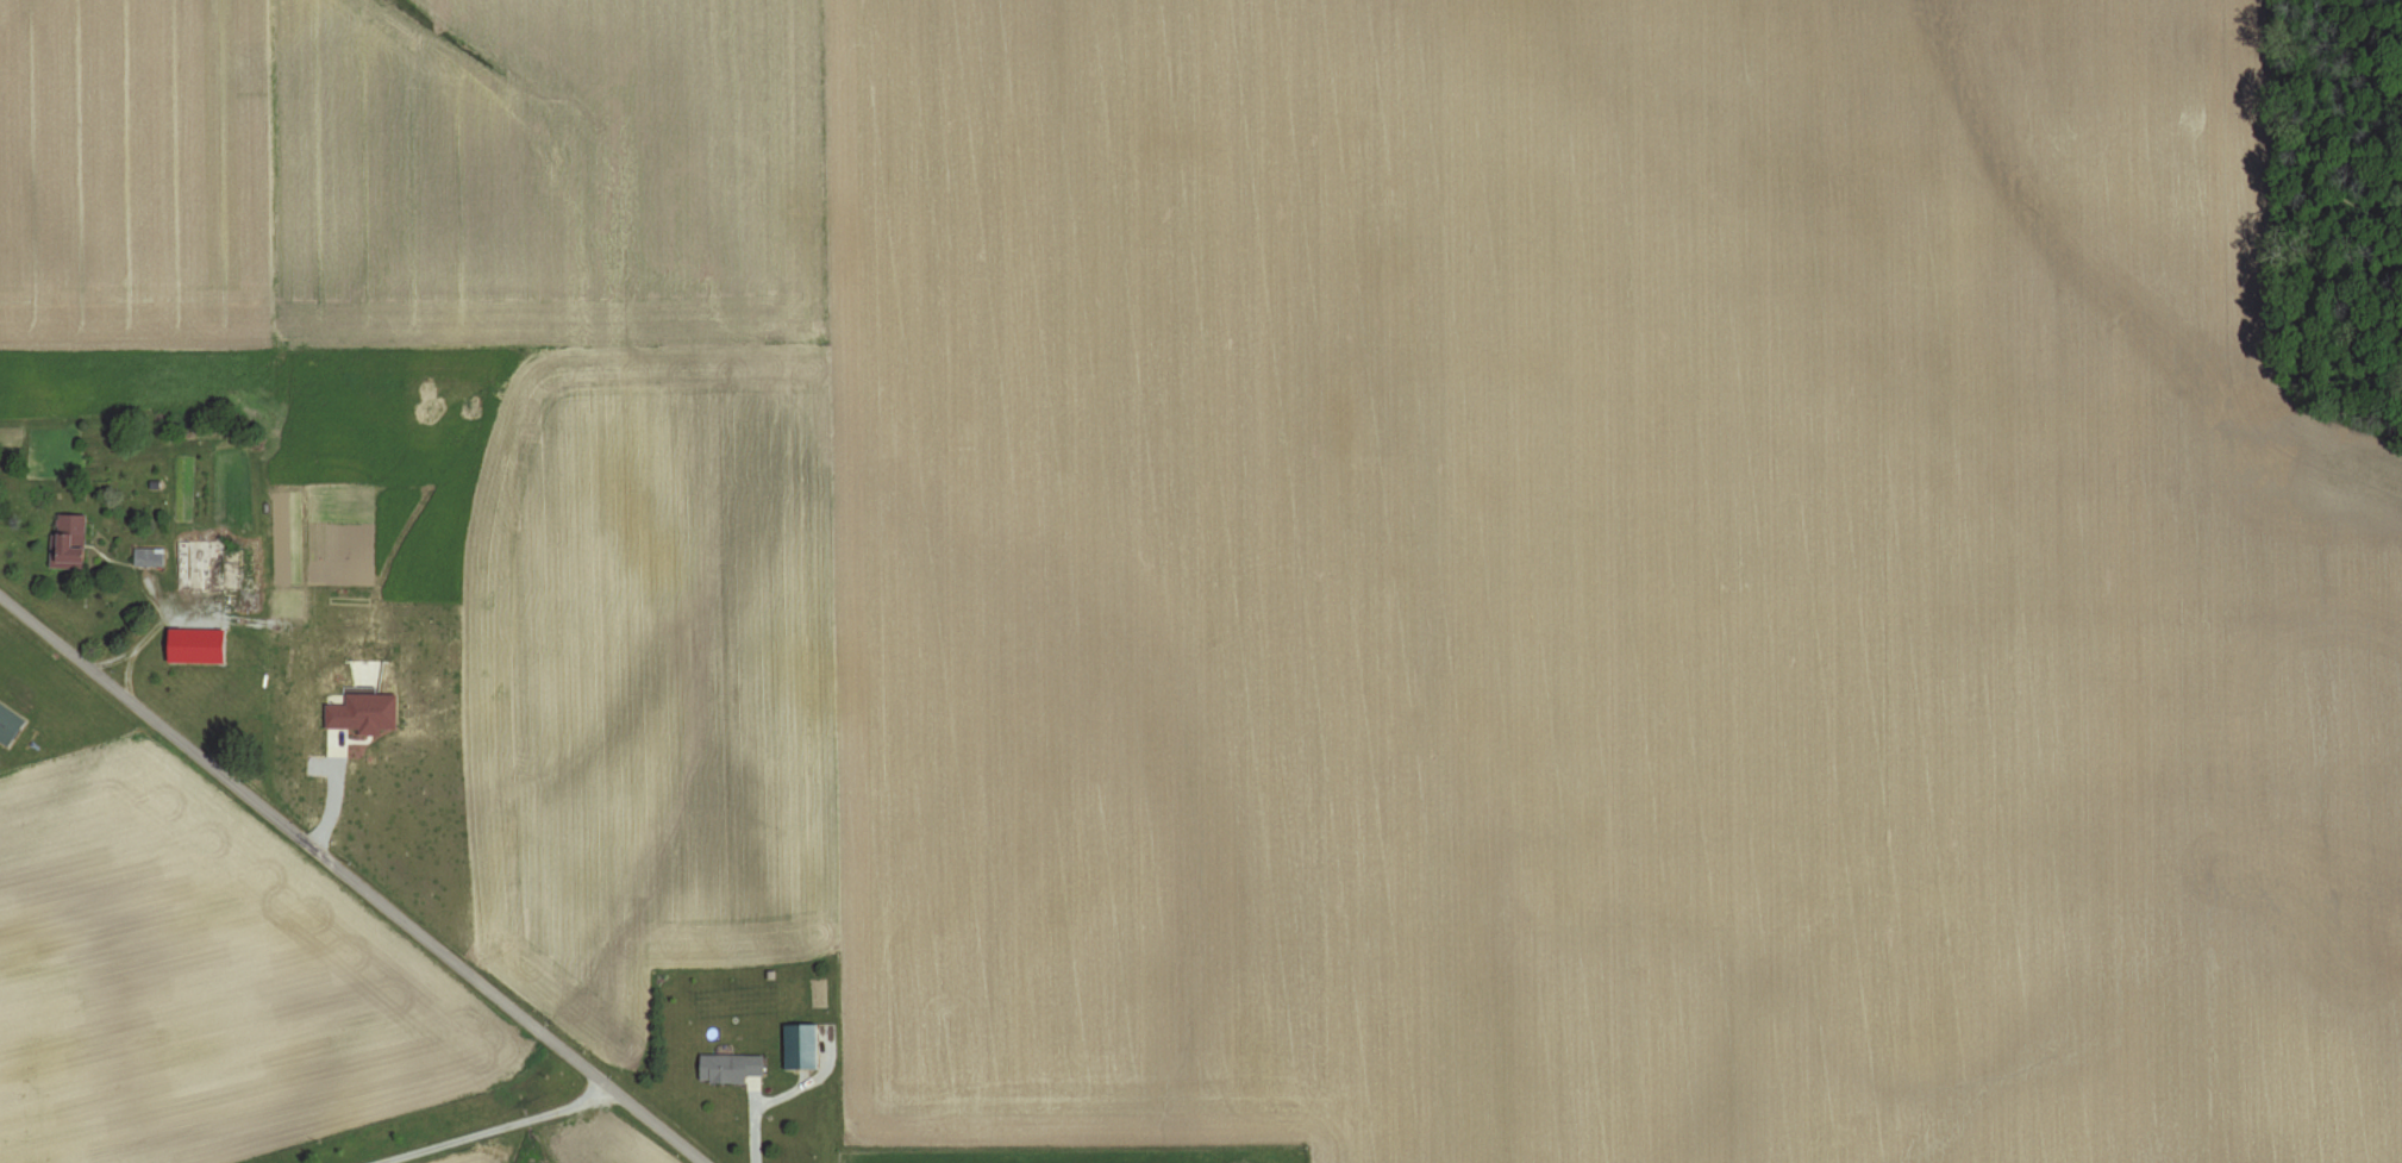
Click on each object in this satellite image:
building: (68, 531)
building: (148, 557)
road: (152, 633)
building: (193, 645)
road: (132, 654)
building: (361, 713)
building: (6, 723)
road: (334, 794)
road: (350, 880)
building: (797, 1046)
building: (726, 1068)
road: (756, 1123)
road: (501, 1128)

